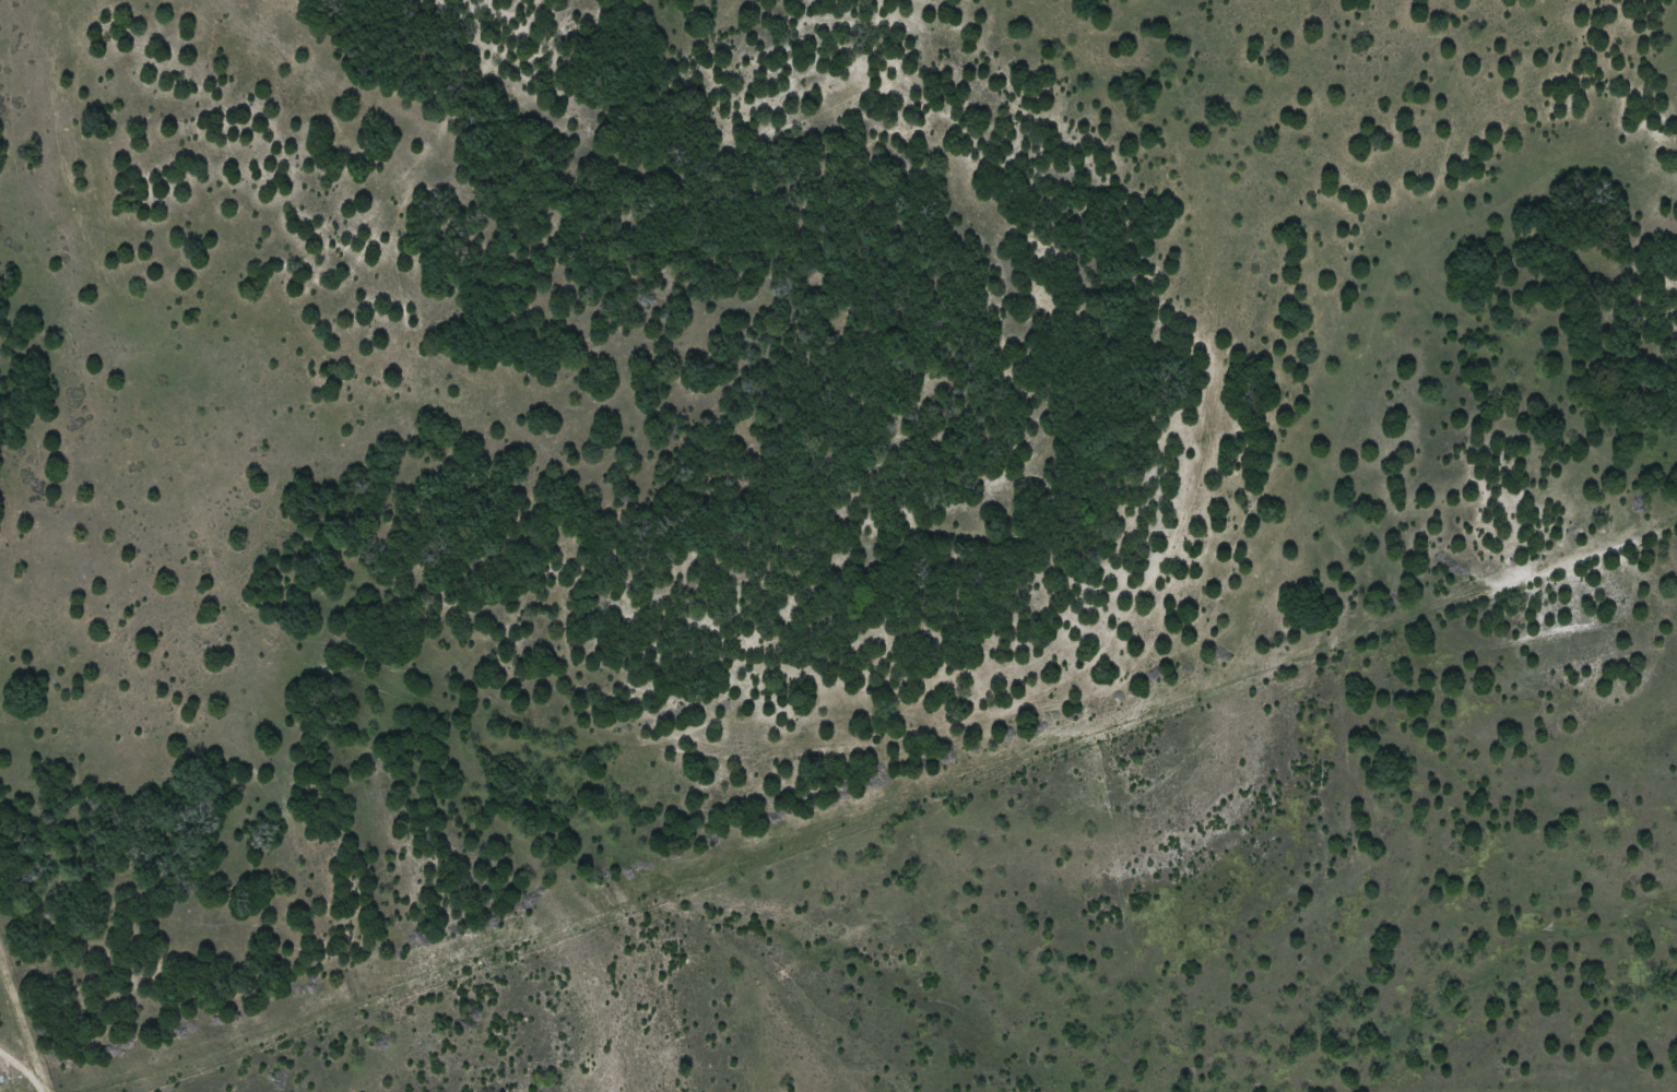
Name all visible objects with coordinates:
road: (14, 548)

